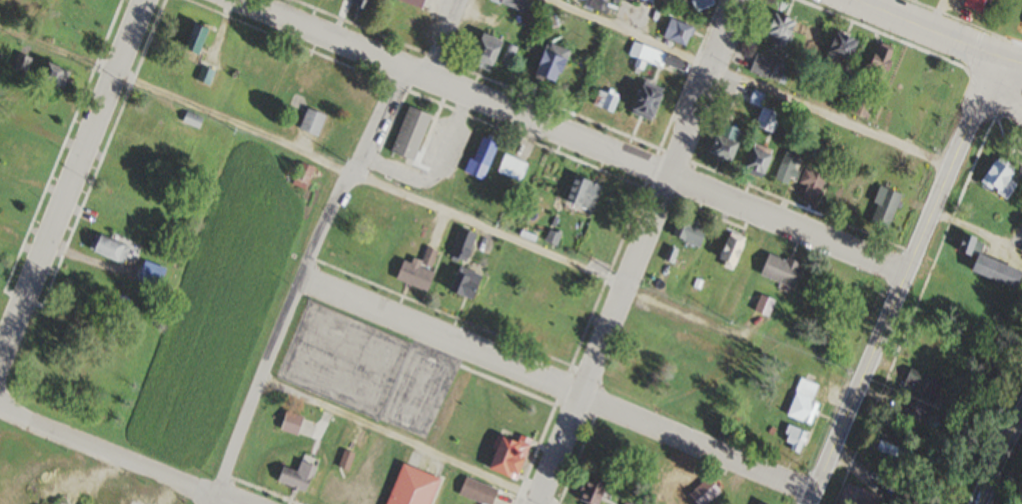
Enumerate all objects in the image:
building: (645, 0)
building: (412, 2)
building: (971, 2)
building: (360, 4)
building: (518, 5)
building: (777, 29)
building: (676, 31)
road: (320, 34)
road: (443, 38)
road: (946, 40)
building: (191, 42)
building: (839, 45)
building: (483, 51)
building: (652, 56)
building: (549, 61)
building: (671, 62)
building: (875, 63)
road: (1007, 63)
building: (766, 67)
building: (50, 75)
building: (203, 76)
road: (746, 82)
building: (755, 98)
building: (926, 98)
building: (604, 101)
building: (643, 101)
building: (191, 120)
building: (766, 120)
building: (310, 122)
building: (408, 133)
building: (723, 143)
building: (15, 154)
building: (479, 157)
building: (755, 160)
building: (511, 167)
road: (654, 167)
building: (785, 168)
building: (301, 176)
building: (543, 178)
road: (72, 179)
building: (997, 179)
road: (371, 182)
building: (809, 186)
building: (581, 193)
building: (610, 198)
building: (882, 207)
building: (687, 231)
building: (460, 244)
building: (106, 249)
building: (728, 250)
road: (636, 252)
building: (520, 256)
building: (428, 257)
building: (987, 264)
building: (778, 269)
building: (149, 274)
building: (413, 275)
road: (897, 281)
road: (302, 282)
building: (462, 283)
building: (497, 292)
building: (762, 305)
road: (556, 386)
building: (919, 395)
building: (802, 402)
building: (289, 423)
building: (793, 439)
road: (409, 442)
road: (118, 456)
building: (507, 456)
road: (997, 456)
building: (295, 477)
building: (686, 483)
building: (410, 486)
building: (328, 490)
building: (362, 490)
building: (476, 491)
building: (589, 492)
building: (720, 494)
building: (856, 495)
building: (626, 502)
building: (650, 503)

